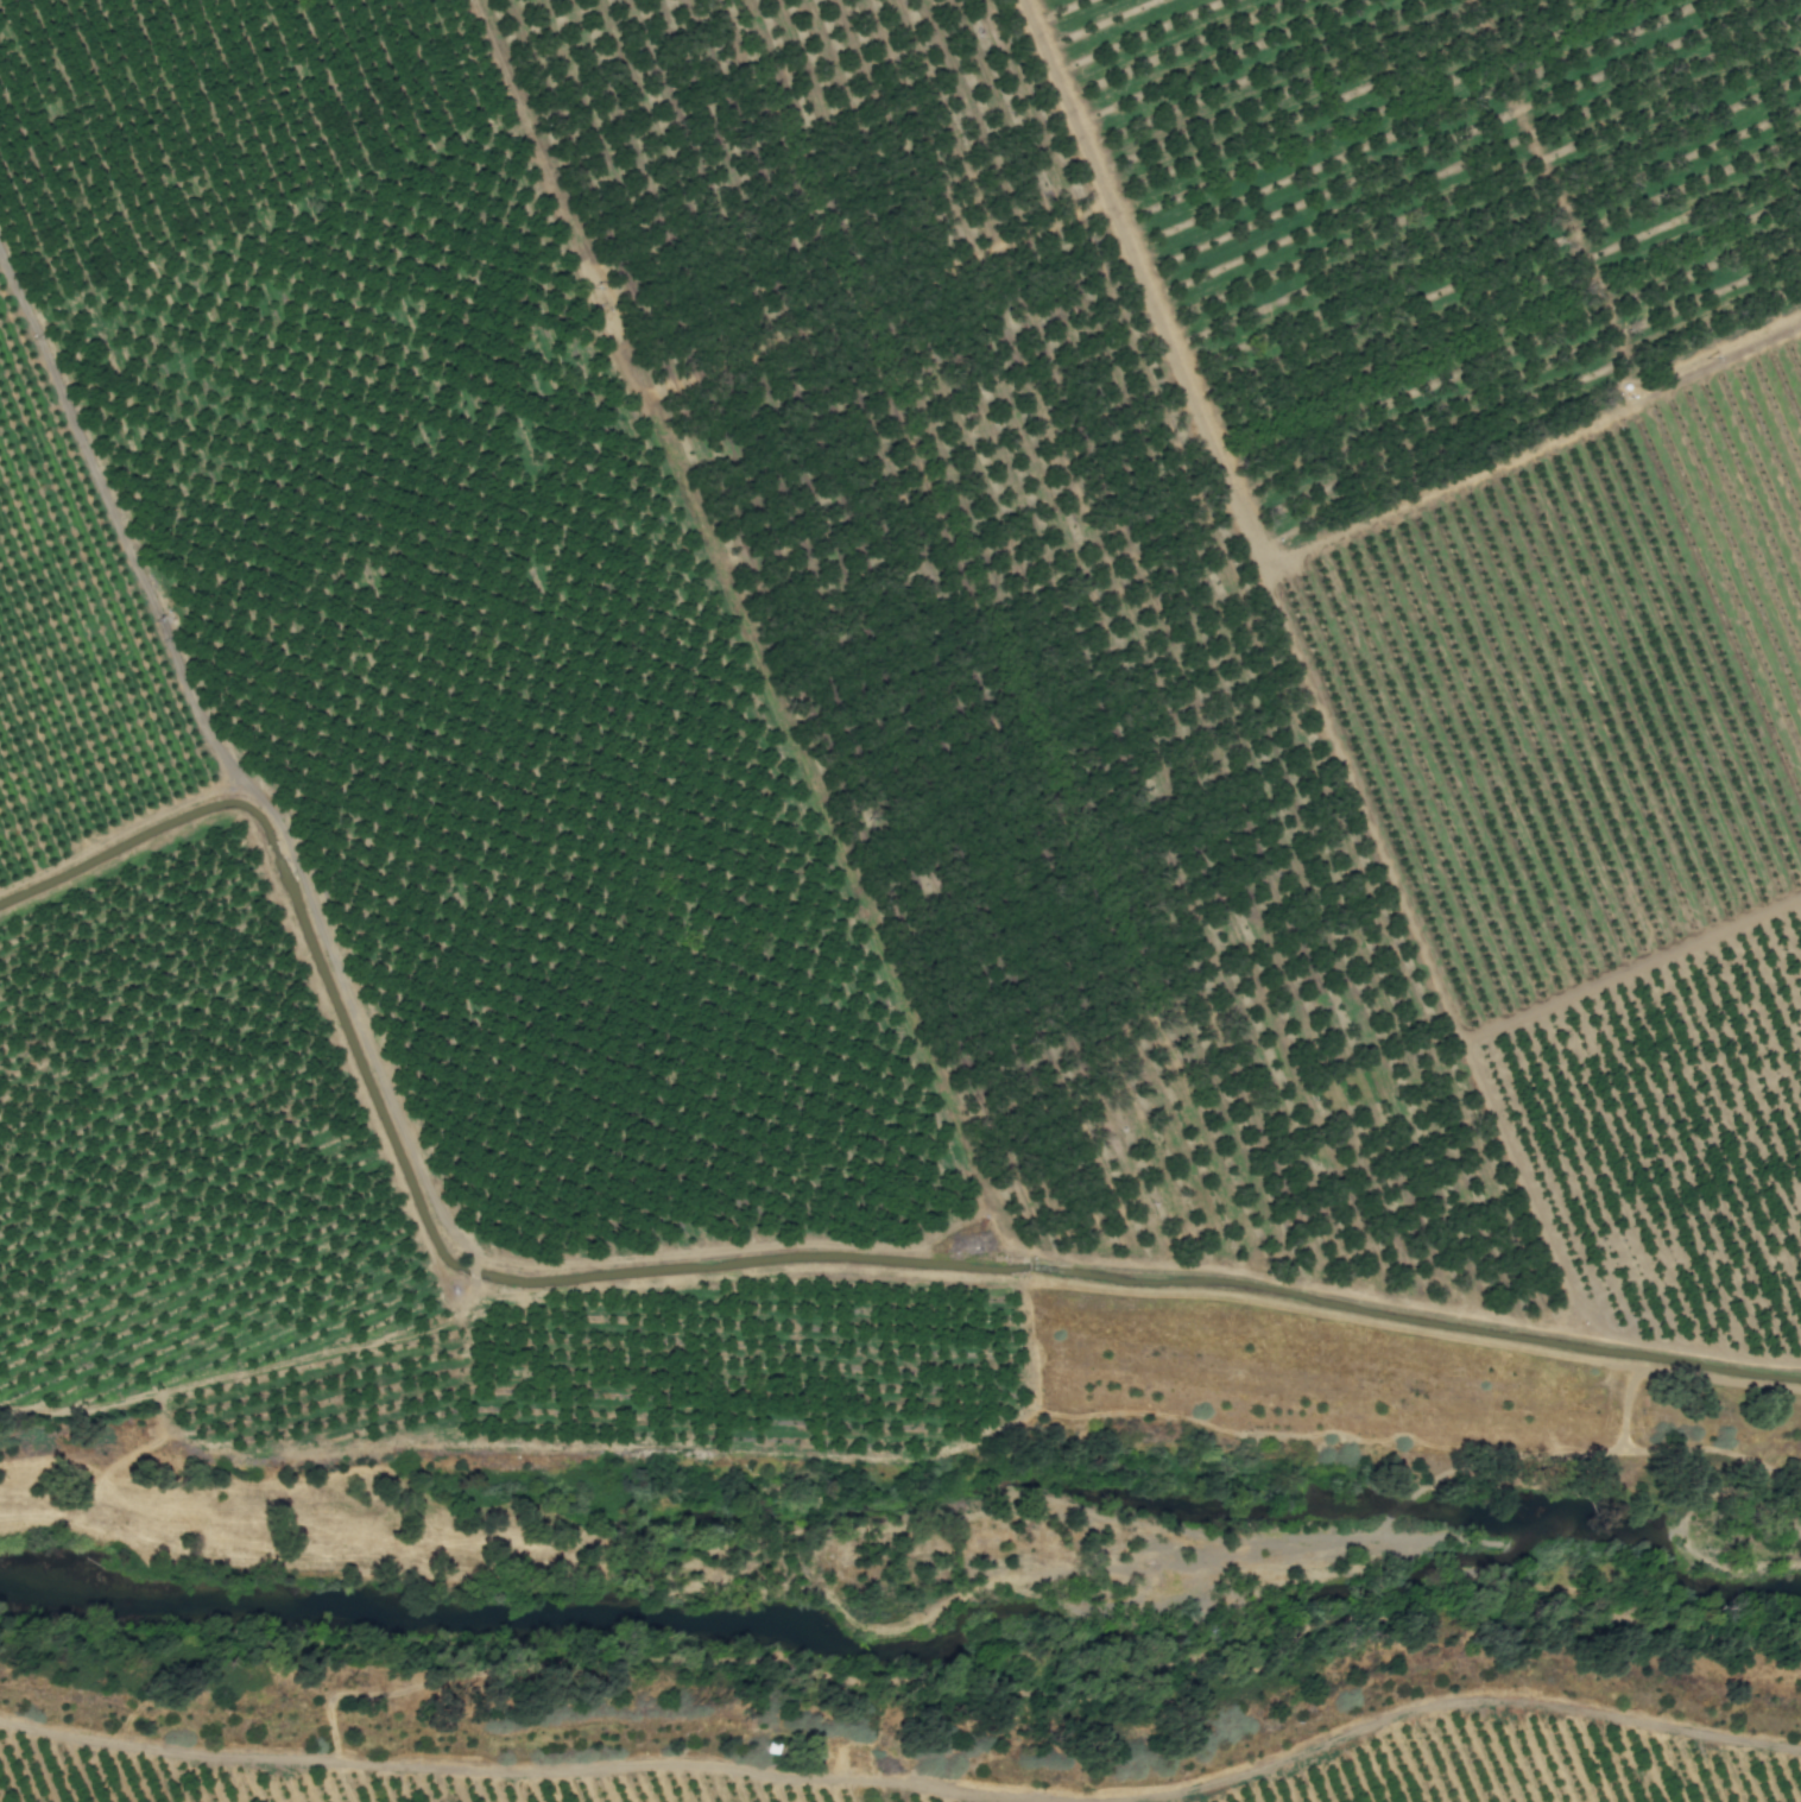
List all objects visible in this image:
road: (239, 771)
river: (903, 1598)
road: (908, 1754)

